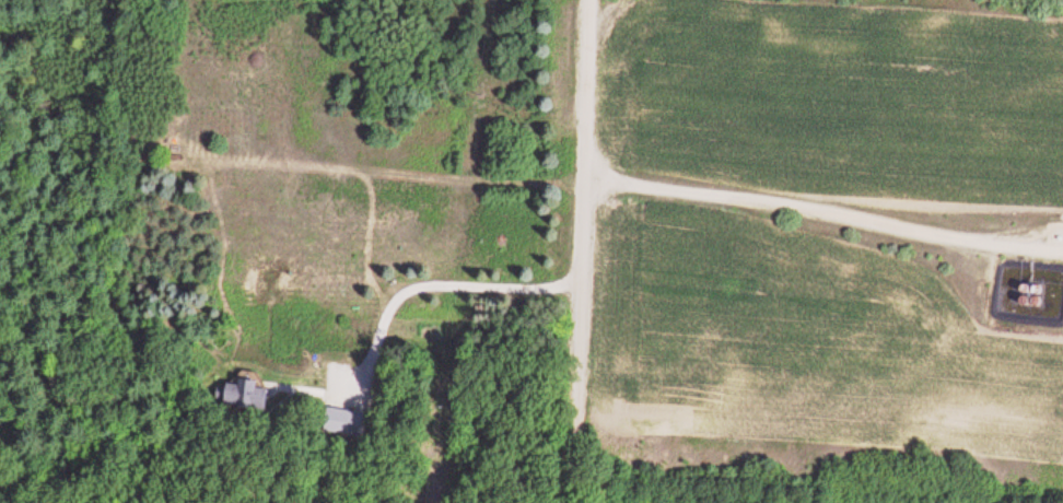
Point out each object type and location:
road: (820, 211)
road: (577, 251)
building: (341, 422)

